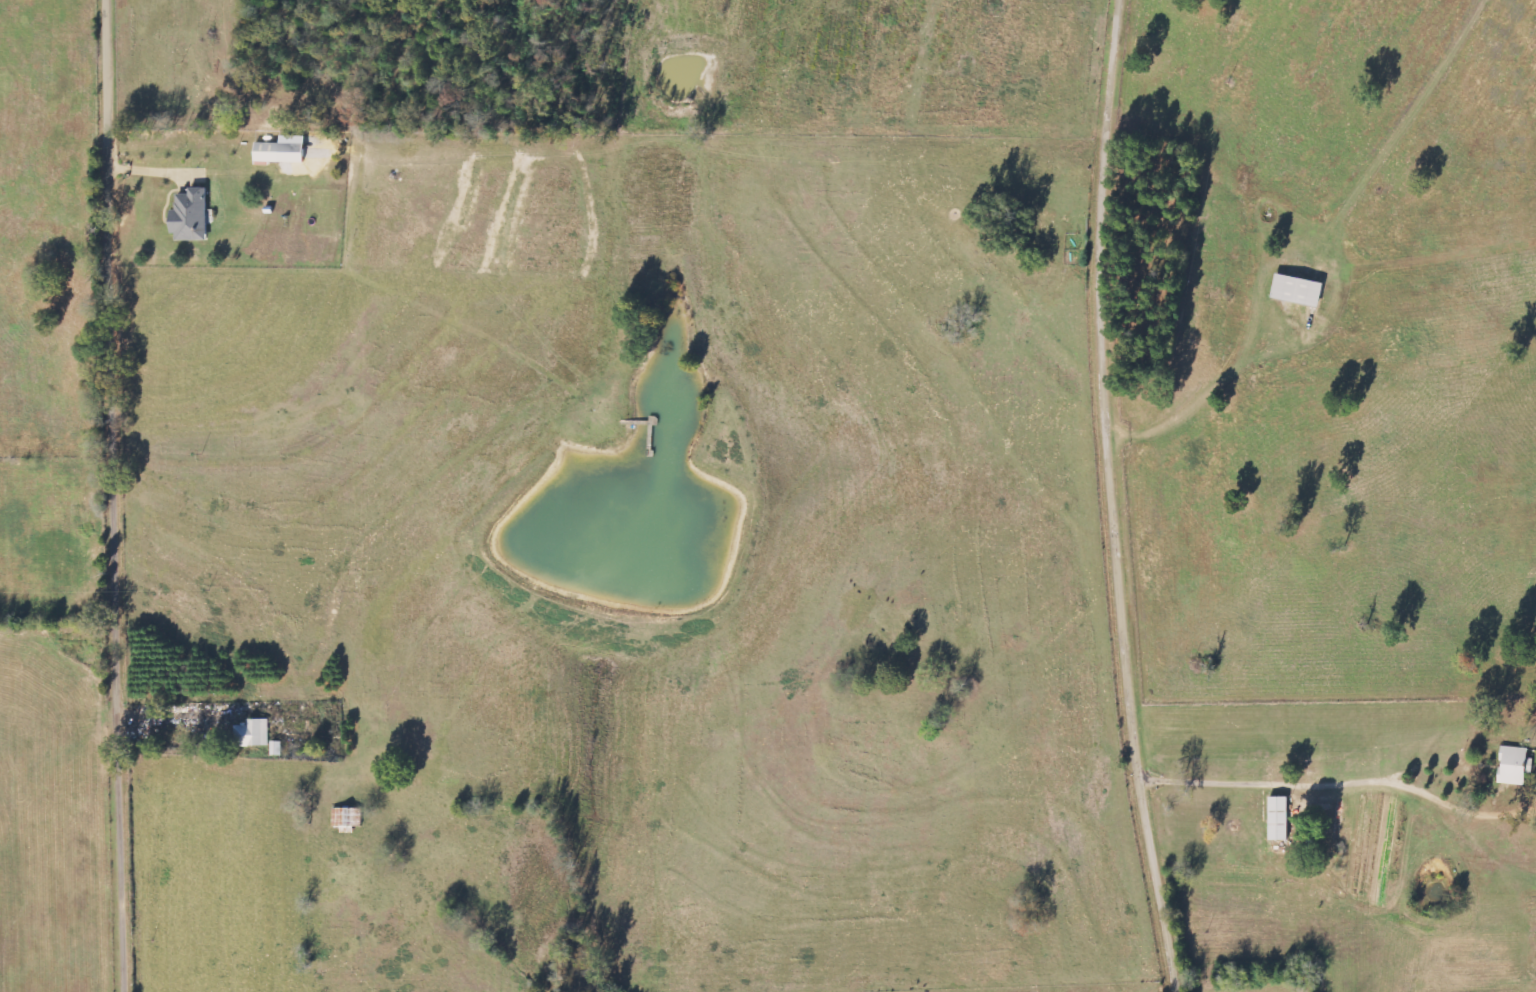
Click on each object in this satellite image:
building: (281, 153)
building: (193, 216)
building: (1300, 291)
road: (120, 496)
road: (1120, 497)
building: (255, 733)
building: (277, 748)
building: (1516, 766)
building: (348, 819)
building: (1281, 819)

